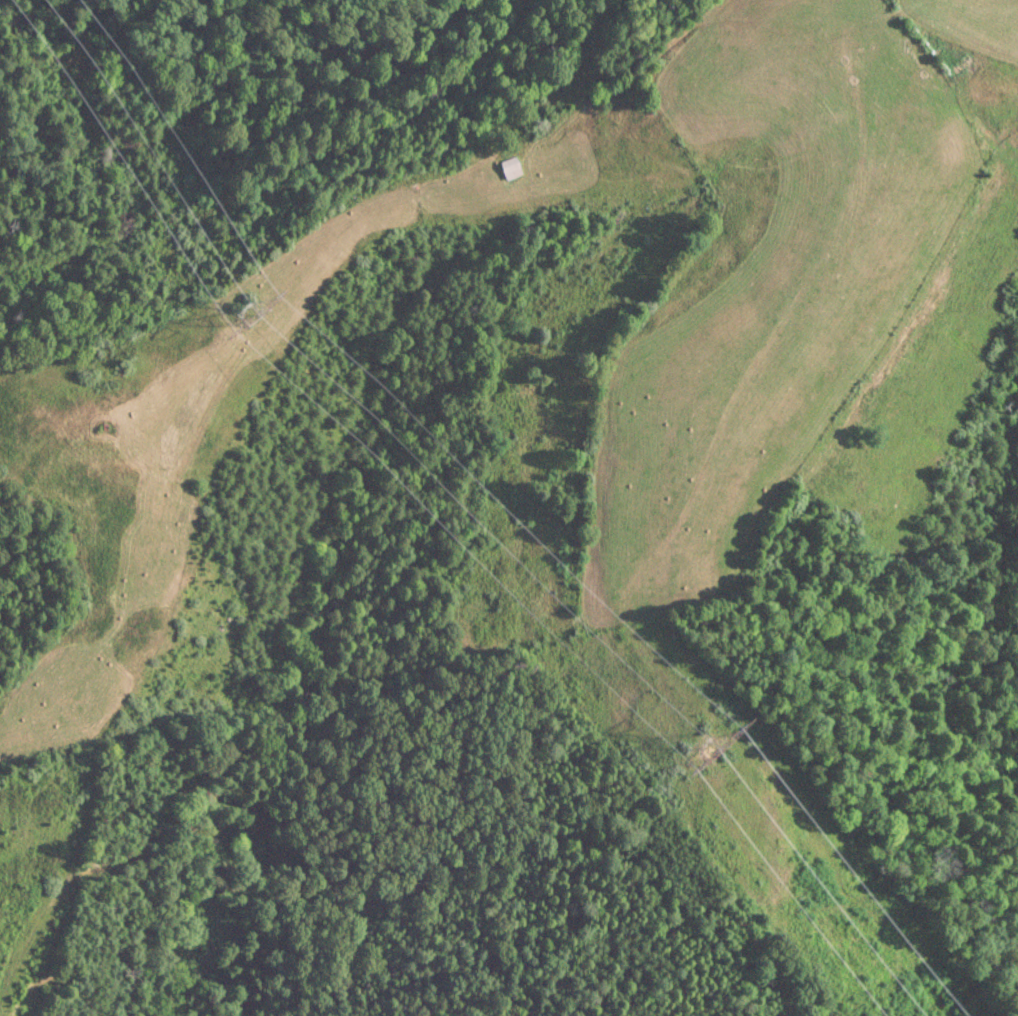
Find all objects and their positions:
building: (511, 168)
power tower: (250, 315)
power tower: (702, 756)

